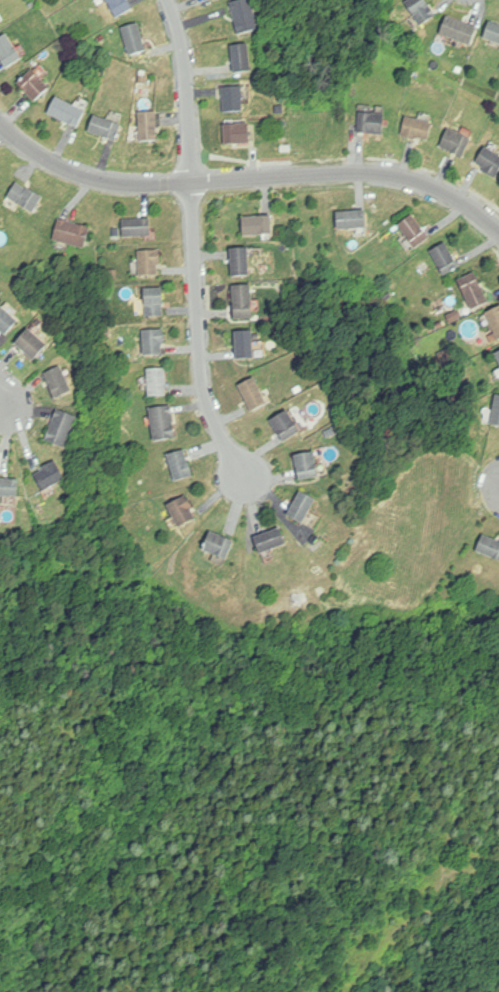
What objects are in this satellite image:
building: (214, 0)
building: (215, 0)
building: (120, 6)
building: (422, 10)
building: (245, 15)
building: (460, 30)
building: (493, 32)
building: (135, 38)
building: (9, 51)
building: (242, 57)
building: (34, 84)
road: (187, 88)
building: (234, 98)
building: (67, 111)
building: (373, 123)
building: (149, 126)
building: (106, 128)
building: (418, 128)
building: (237, 134)
building: (457, 142)
building: (490, 162)
road: (248, 176)
building: (26, 197)
building: (0, 207)
building: (353, 219)
building: (259, 226)
building: (137, 227)
building: (415, 231)
building: (72, 233)
building: (446, 259)
building: (149, 262)
building: (240, 262)
building: (474, 290)
building: (155, 302)
building: (244, 302)
building: (495, 319)
building: (7, 320)
road: (197, 332)
building: (154, 339)
building: (32, 343)
building: (246, 344)
building: (497, 355)
building: (58, 381)
building: (157, 381)
building: (254, 393)
road: (4, 394)
building: (496, 412)
building: (165, 423)
building: (287, 426)
building: (61, 428)
building: (181, 465)
building: (308, 466)
building: (51, 474)
building: (9, 487)
building: (303, 507)
building: (183, 511)
building: (271, 540)
building: (220, 545)
building: (490, 546)

